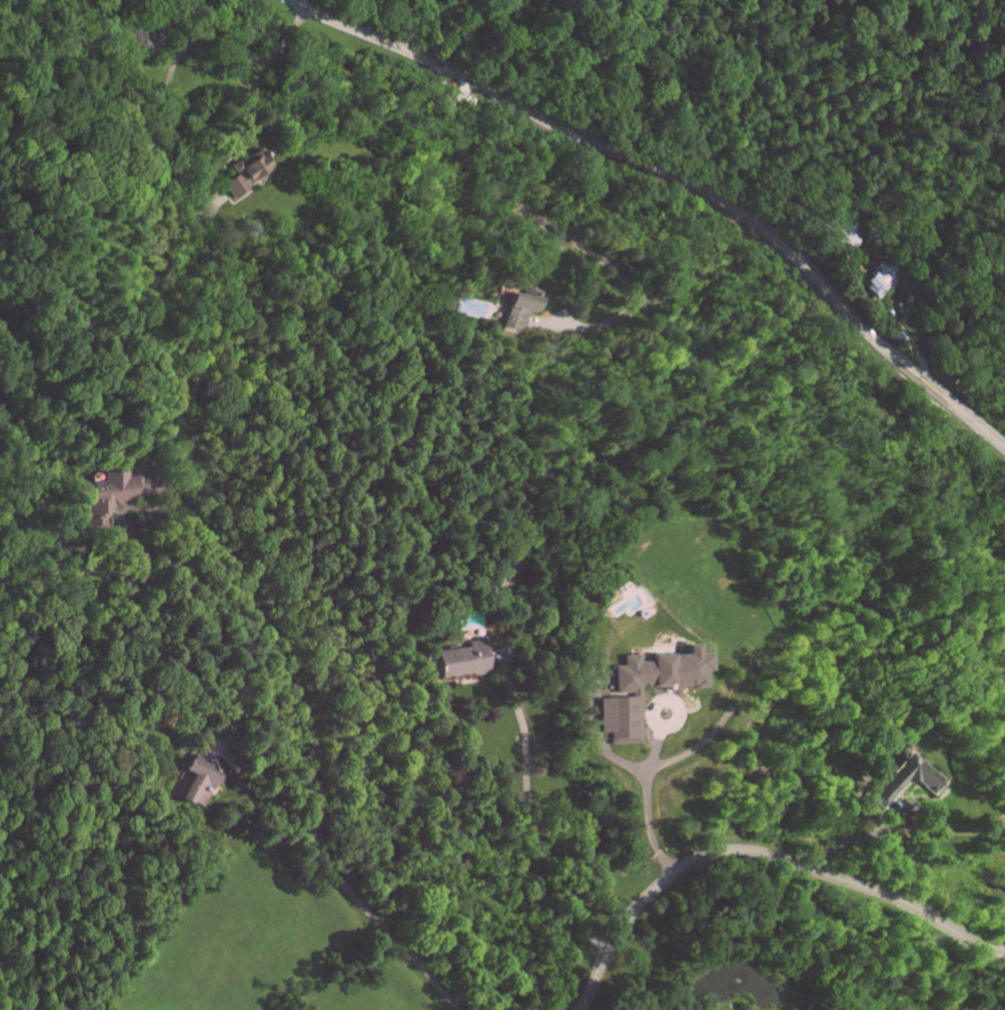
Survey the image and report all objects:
road: (165, 78)
building: (244, 172)
road: (677, 175)
road: (579, 246)
building: (876, 283)
building: (514, 310)
building: (109, 493)
building: (454, 659)
building: (629, 694)
road: (694, 757)
building: (192, 778)
building: (899, 780)
road: (313, 781)
road: (258, 795)
road: (526, 817)
road: (764, 854)

